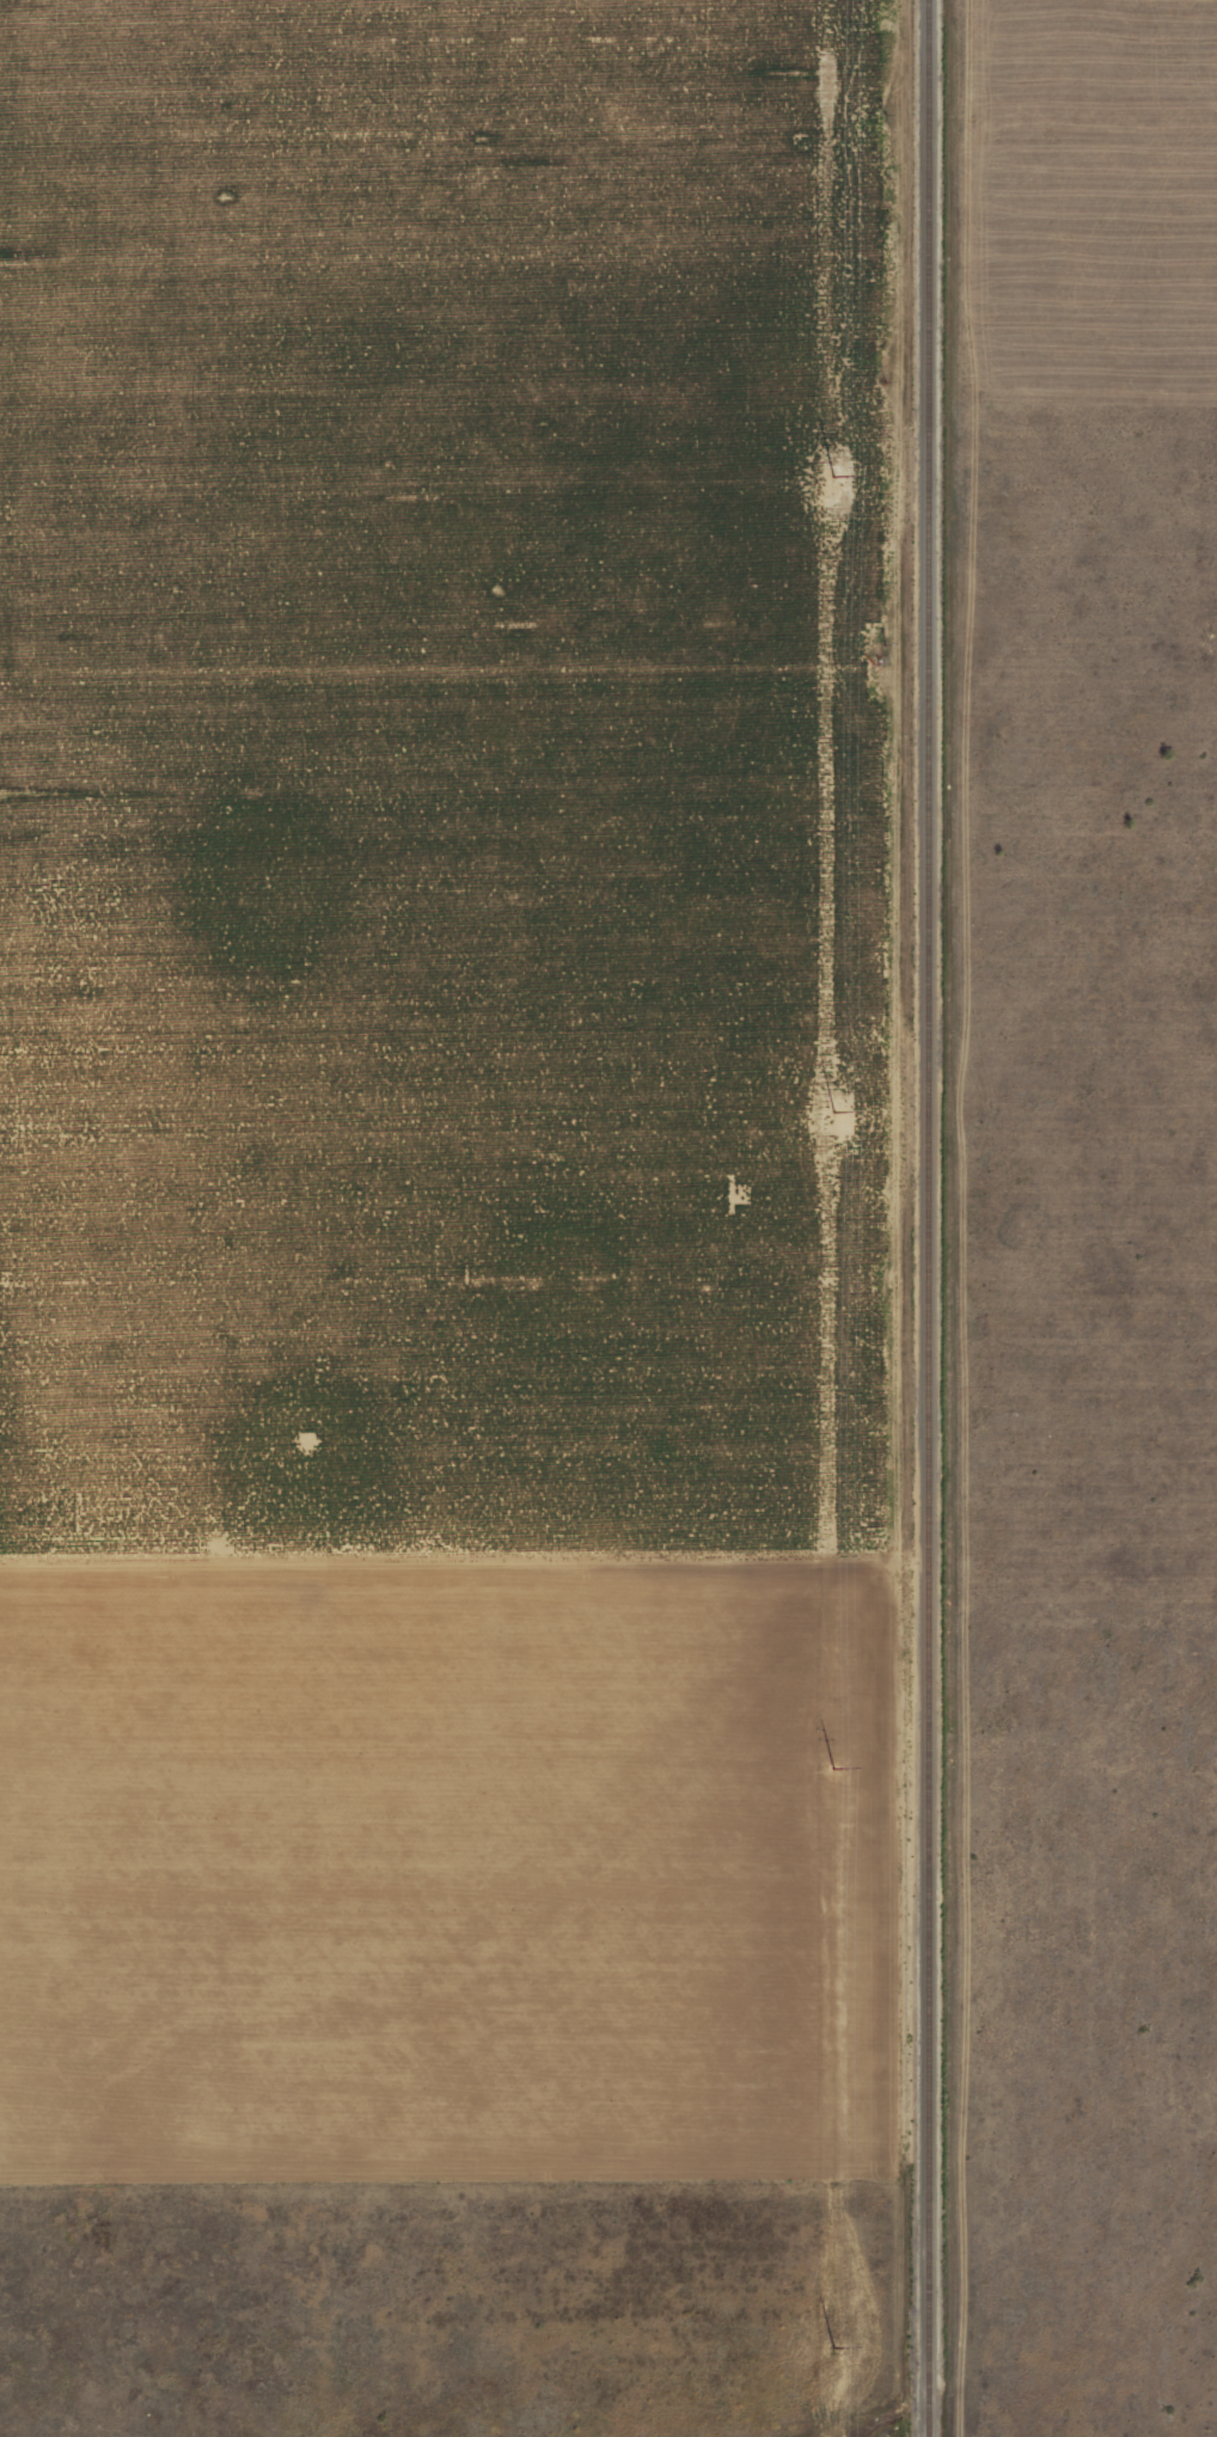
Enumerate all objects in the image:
railway: (928, 1218)

